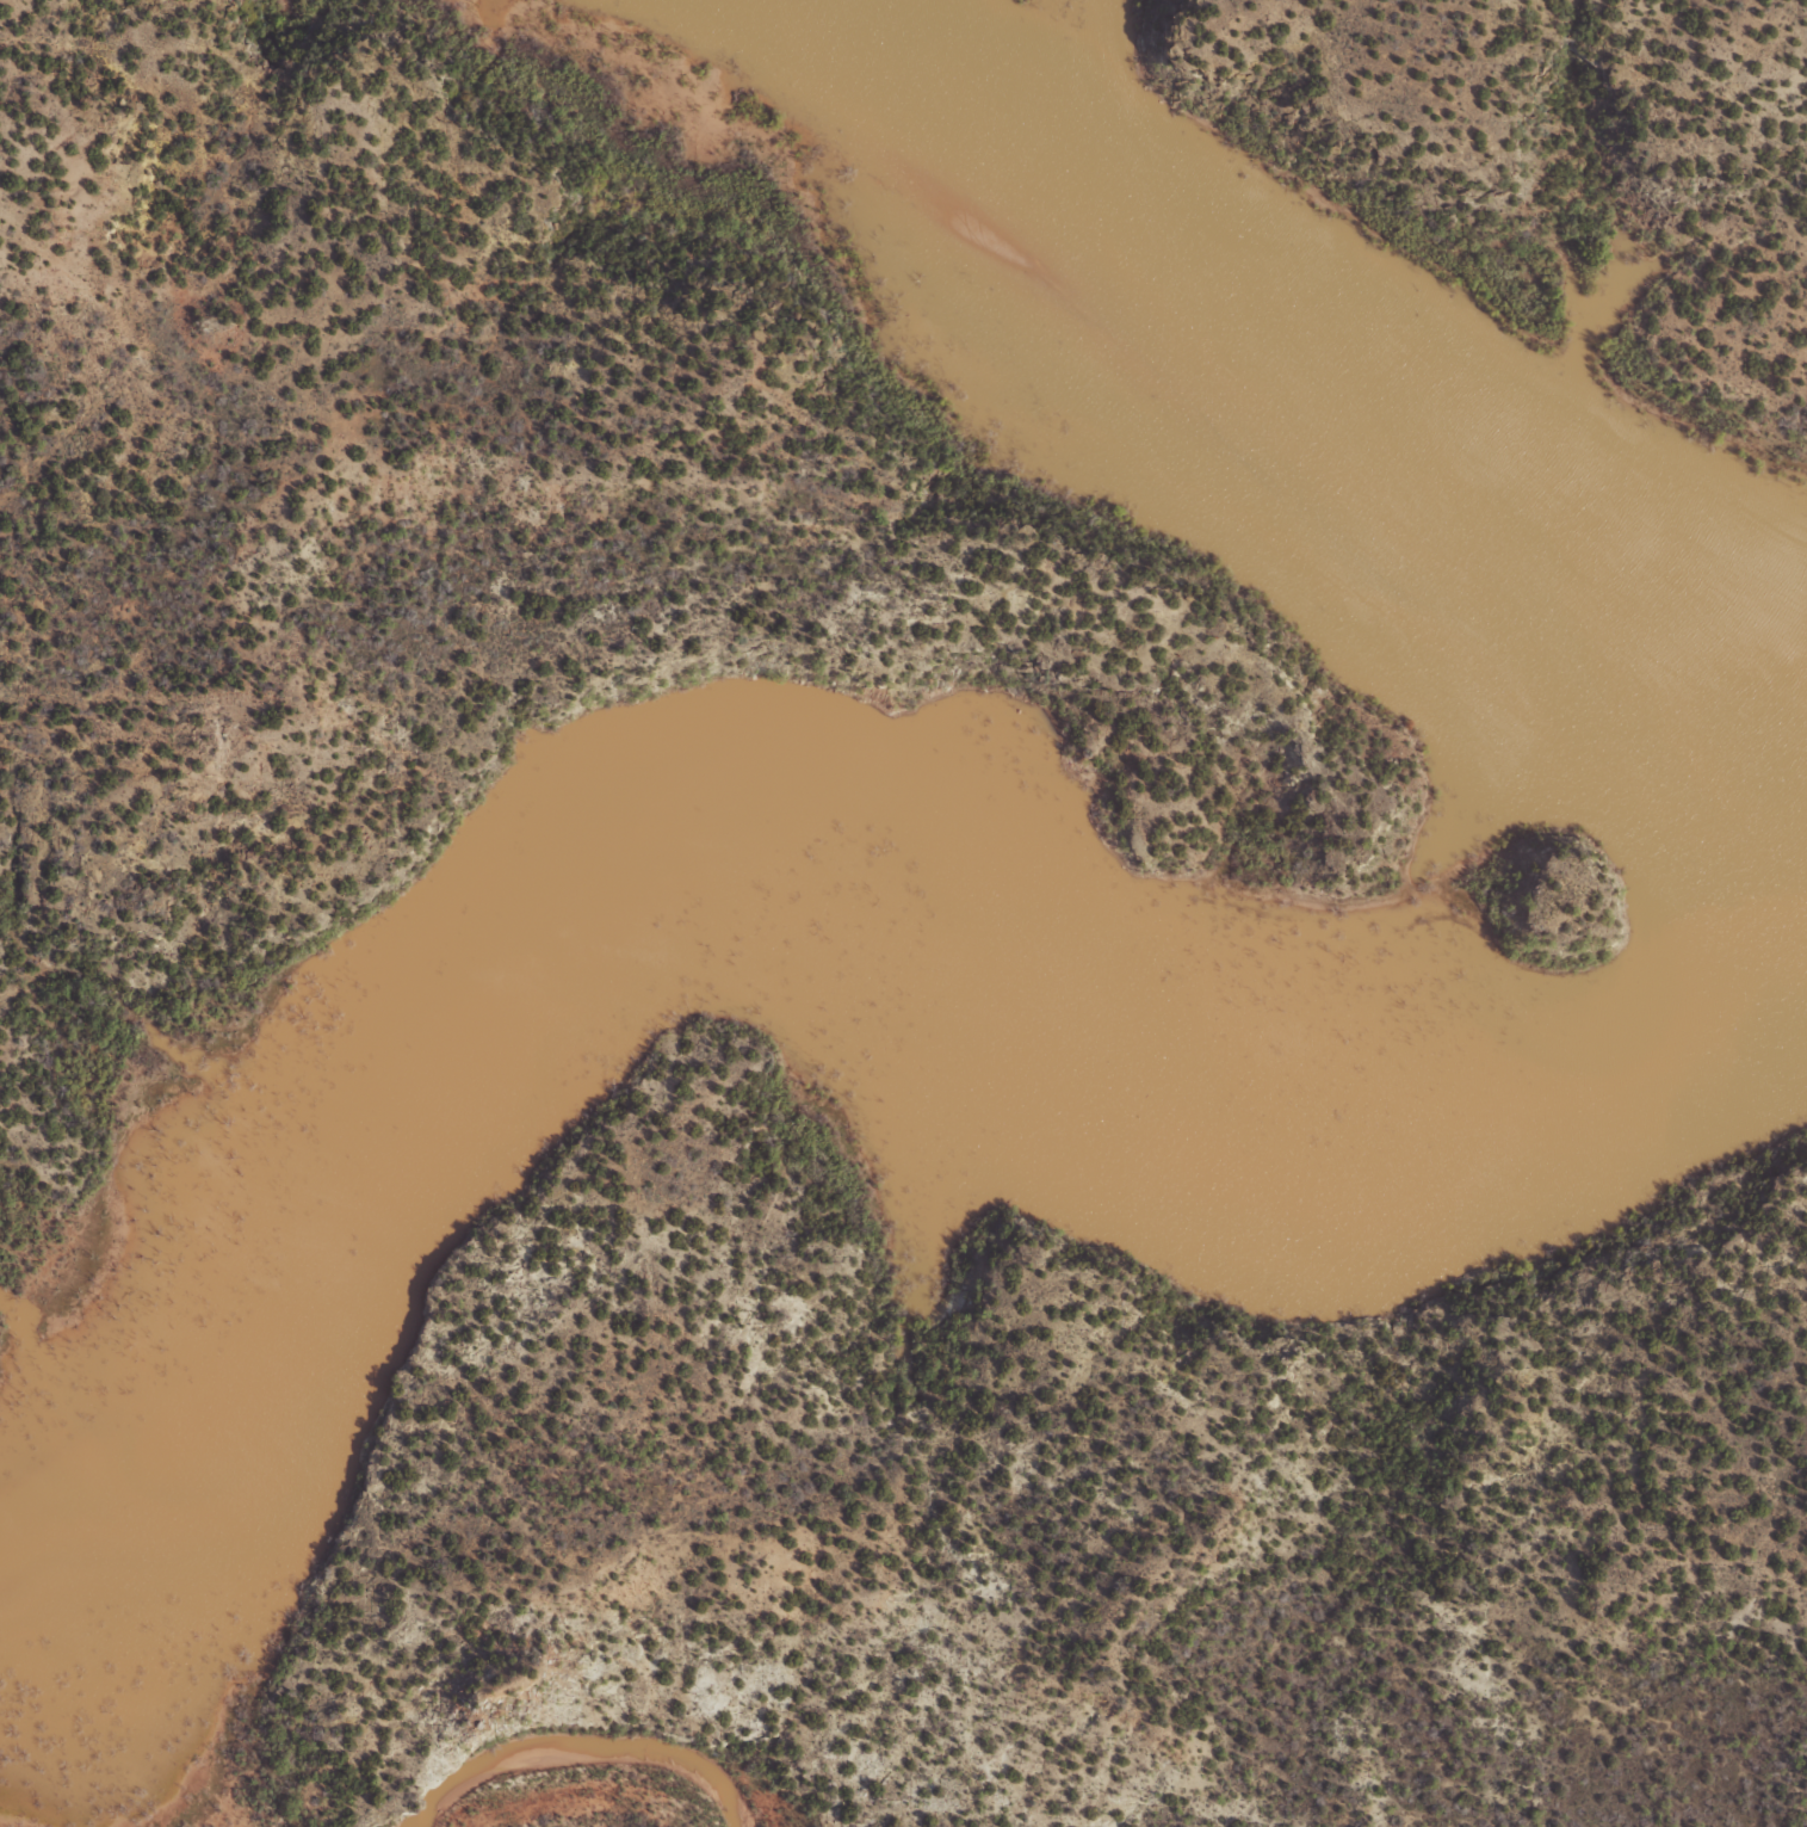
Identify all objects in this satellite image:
road: (118, 309)
river: (1283, 357)

